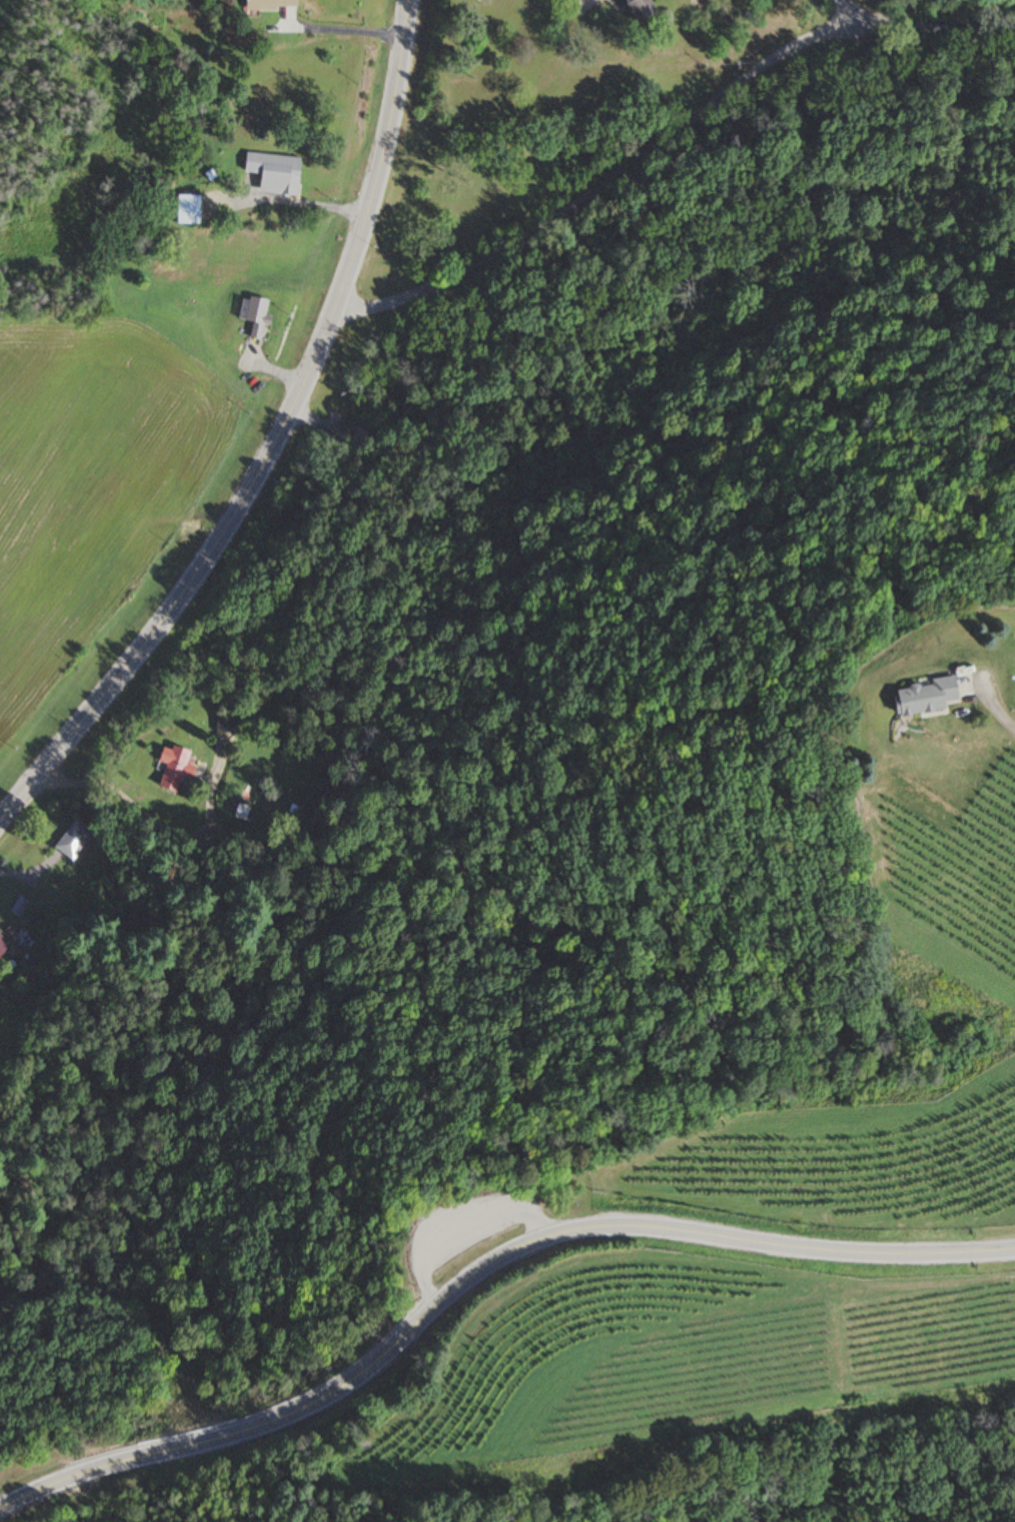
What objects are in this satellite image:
building: (268, 5)
building: (637, 10)
road: (937, 21)
road: (337, 26)
building: (273, 175)
road: (602, 181)
road: (283, 201)
building: (186, 211)
building: (253, 317)
road: (271, 442)
crop: (93, 485)
building: (922, 695)
road: (1001, 714)
building: (170, 768)
building: (245, 812)
building: (72, 839)
building: (1, 931)
building: (2, 941)
road: (449, 1212)
road: (995, 1249)
road: (463, 1280)

